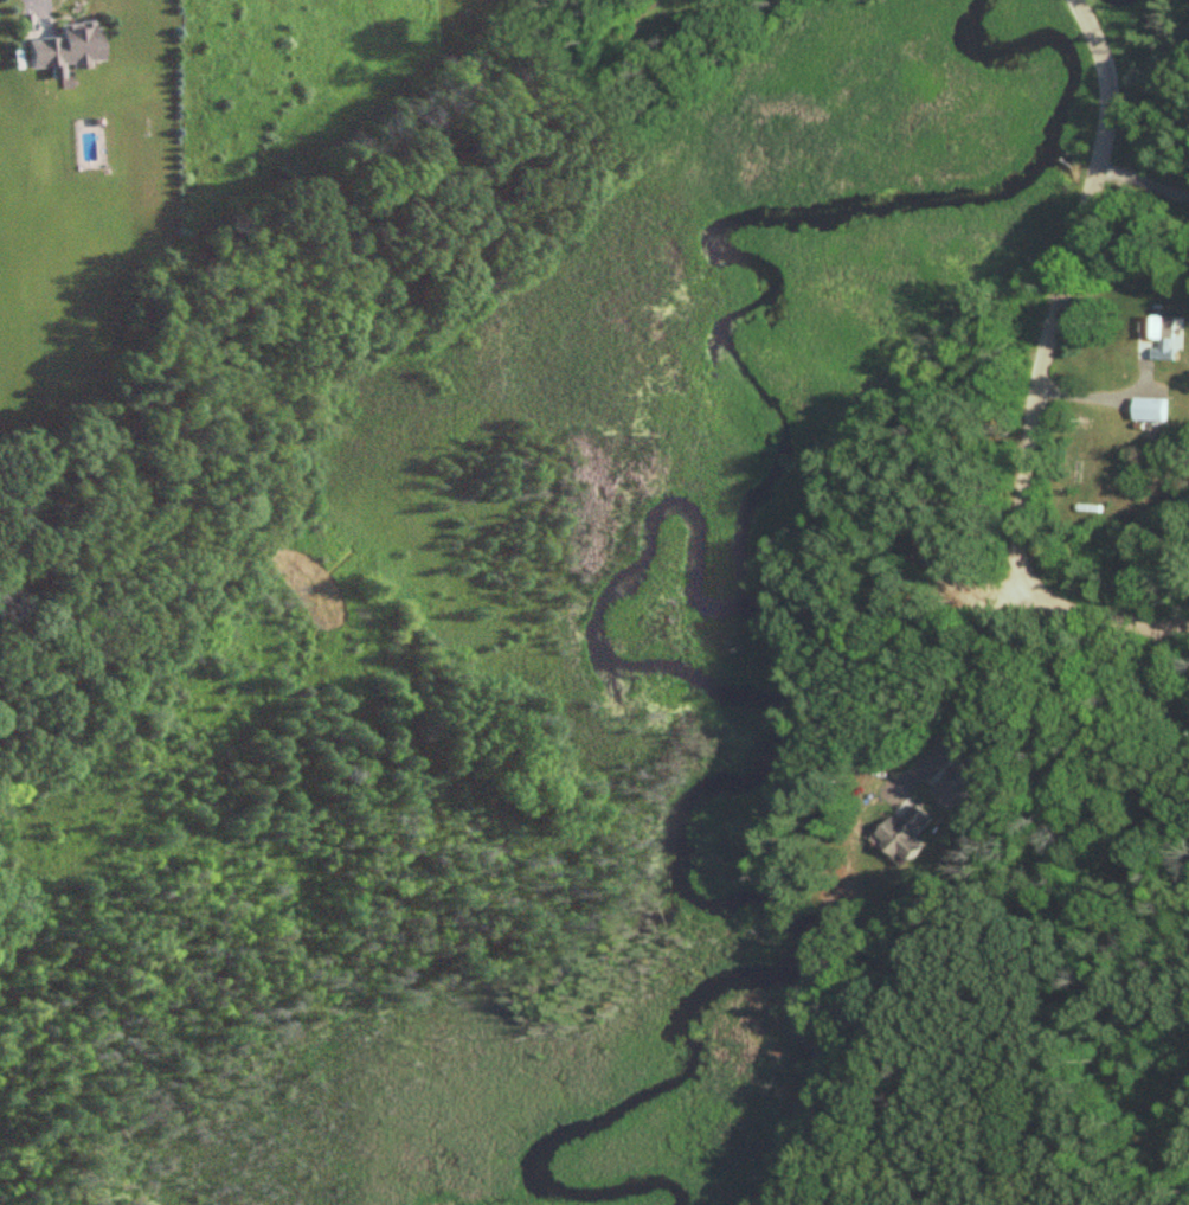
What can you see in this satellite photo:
road: (46, 6)
building: (63, 49)
road: (1143, 177)
building: (1164, 338)
road: (1039, 372)
road: (1105, 396)
building: (1149, 410)
building: (955, 786)
building: (902, 835)

